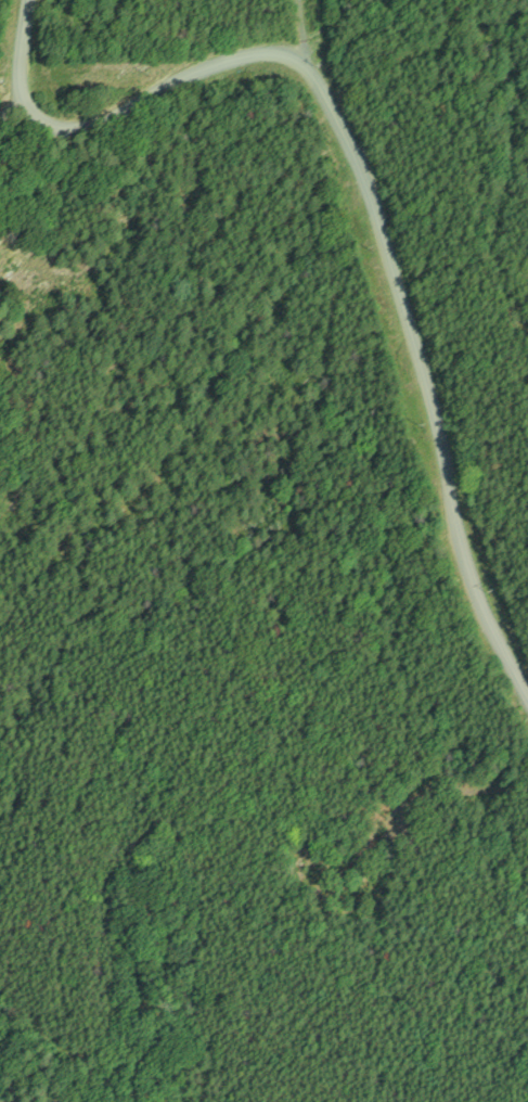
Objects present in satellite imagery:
road: (325, 33)
road: (10, 107)
road: (371, 153)

